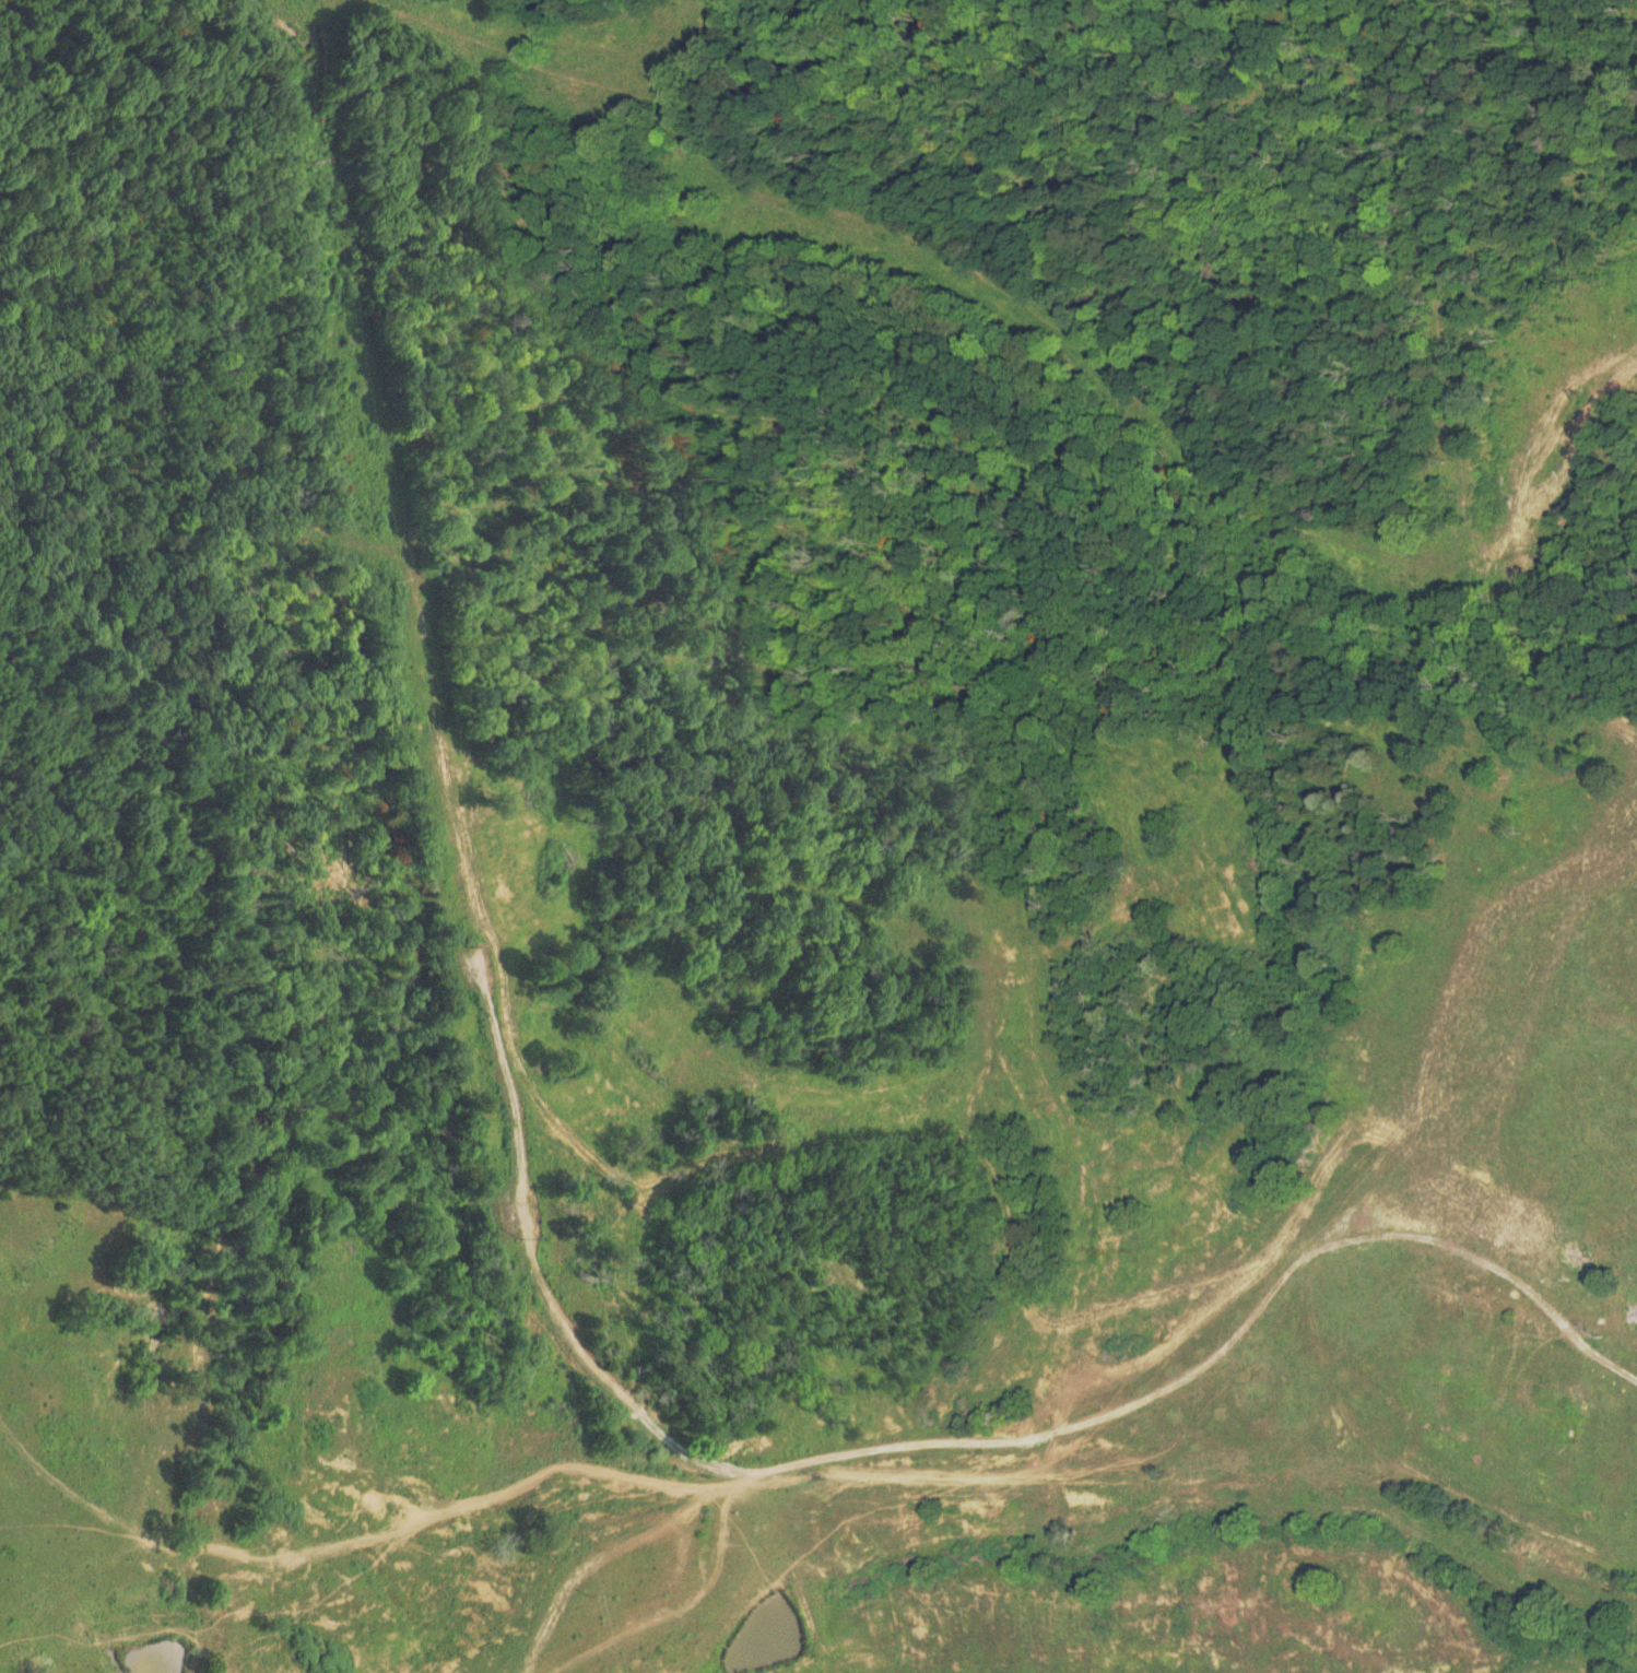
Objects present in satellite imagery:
building: (1491, 1257)
building: (1633, 1312)
road: (1540, 1480)

